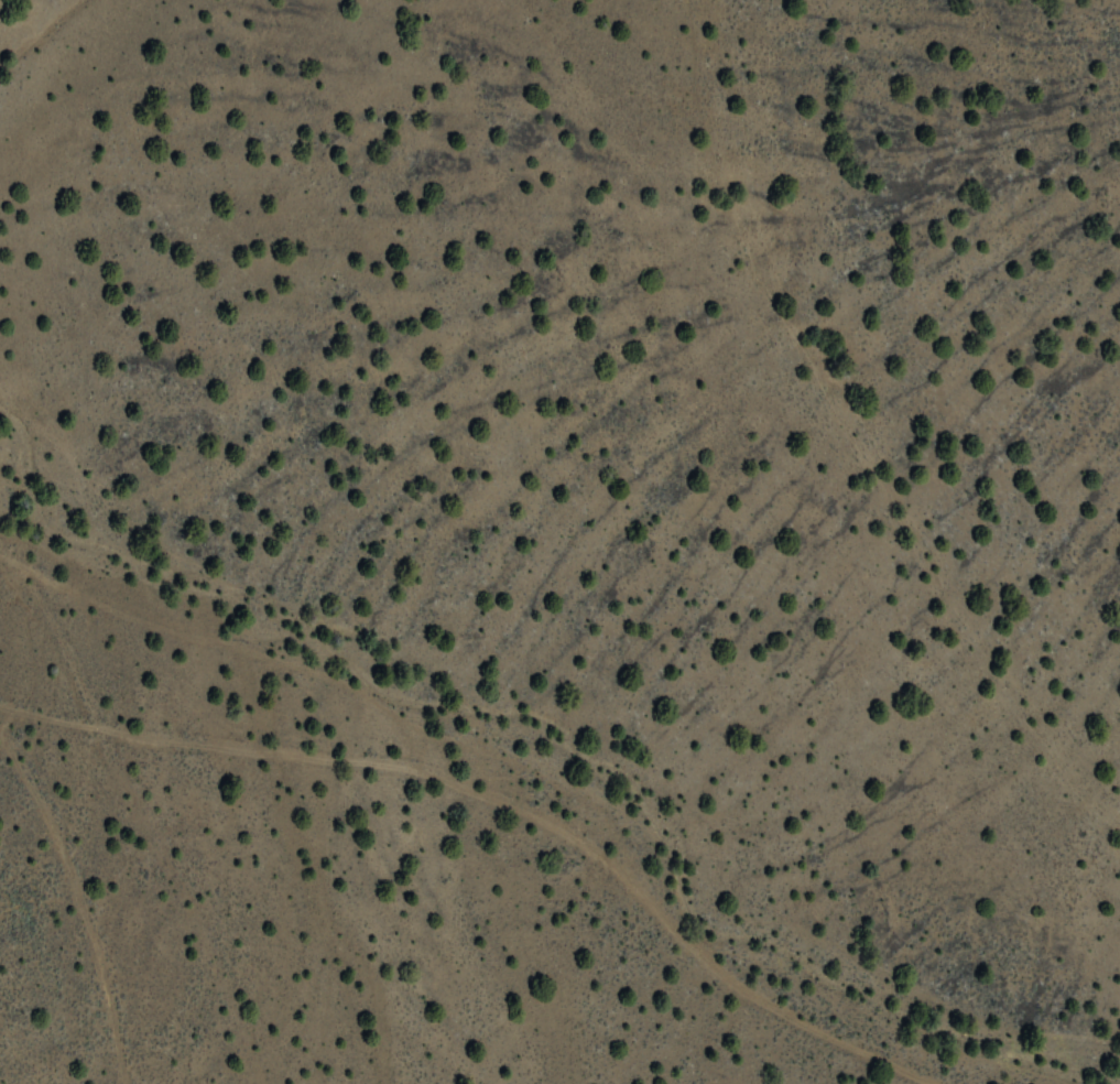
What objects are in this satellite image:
road: (507, 800)
road: (83, 899)

